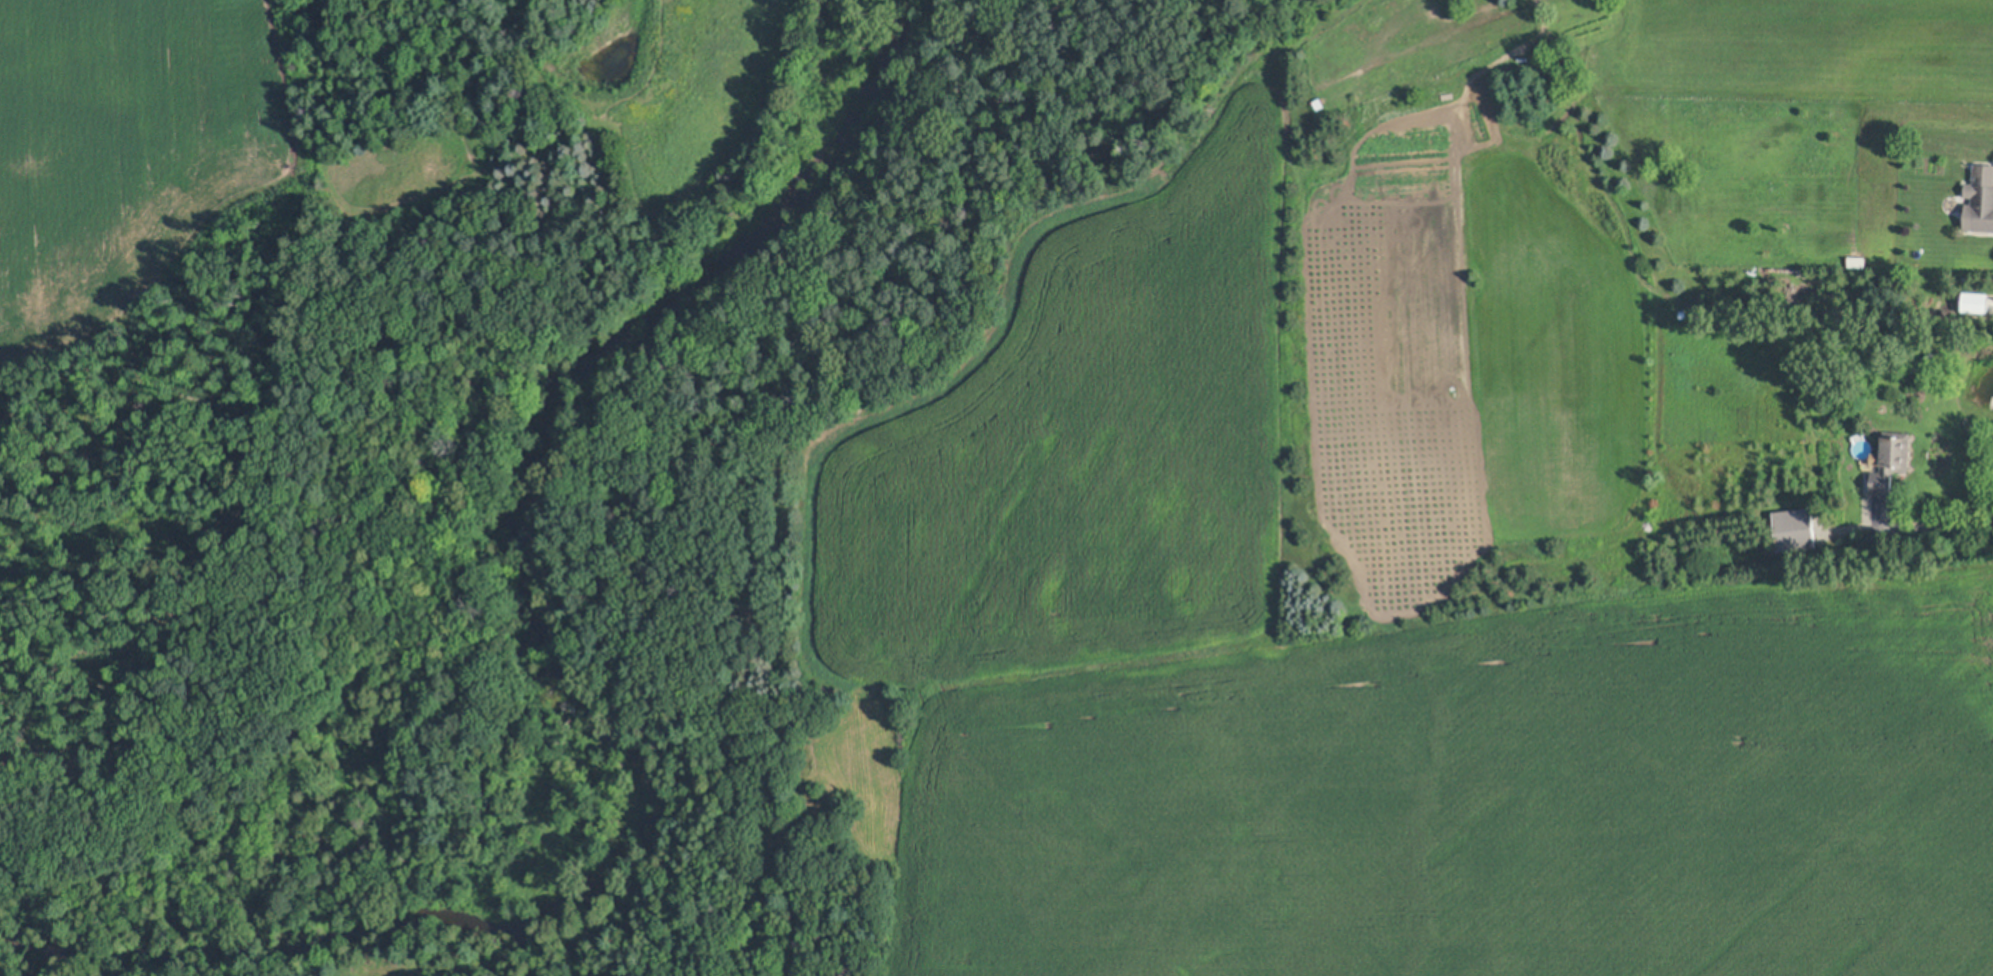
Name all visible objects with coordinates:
building: (1479, 7)
building: (1980, 199)
building: (1857, 261)
building: (1979, 302)
building: (1931, 357)
building: (1918, 361)
building: (1891, 461)
road: (1938, 518)
building: (1795, 531)
river: (585, 673)

